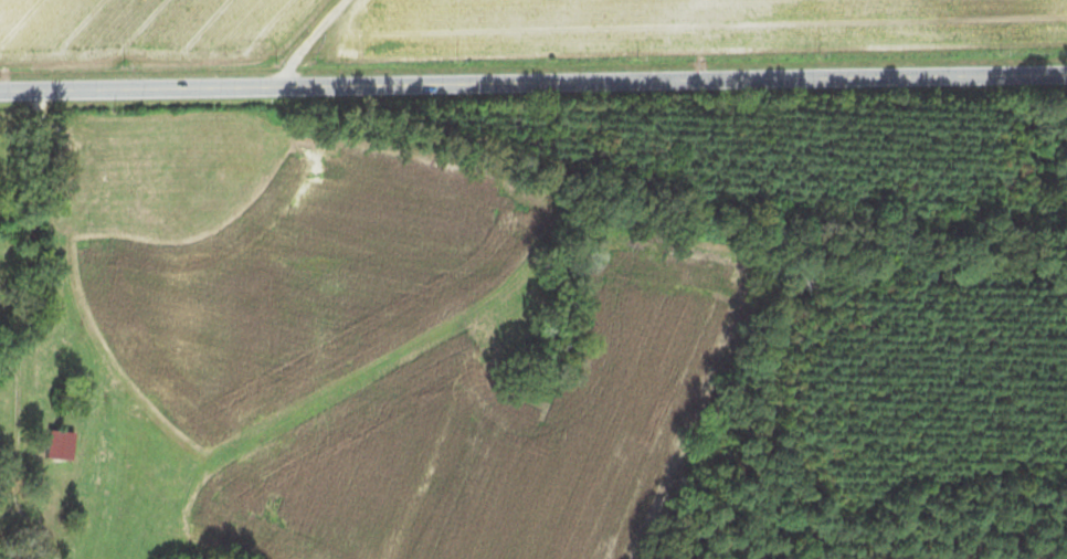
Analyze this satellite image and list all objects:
road: (305, 43)
road: (975, 68)
road: (442, 82)
building: (237, 162)
road: (19, 243)
building: (53, 444)
road: (13, 540)

